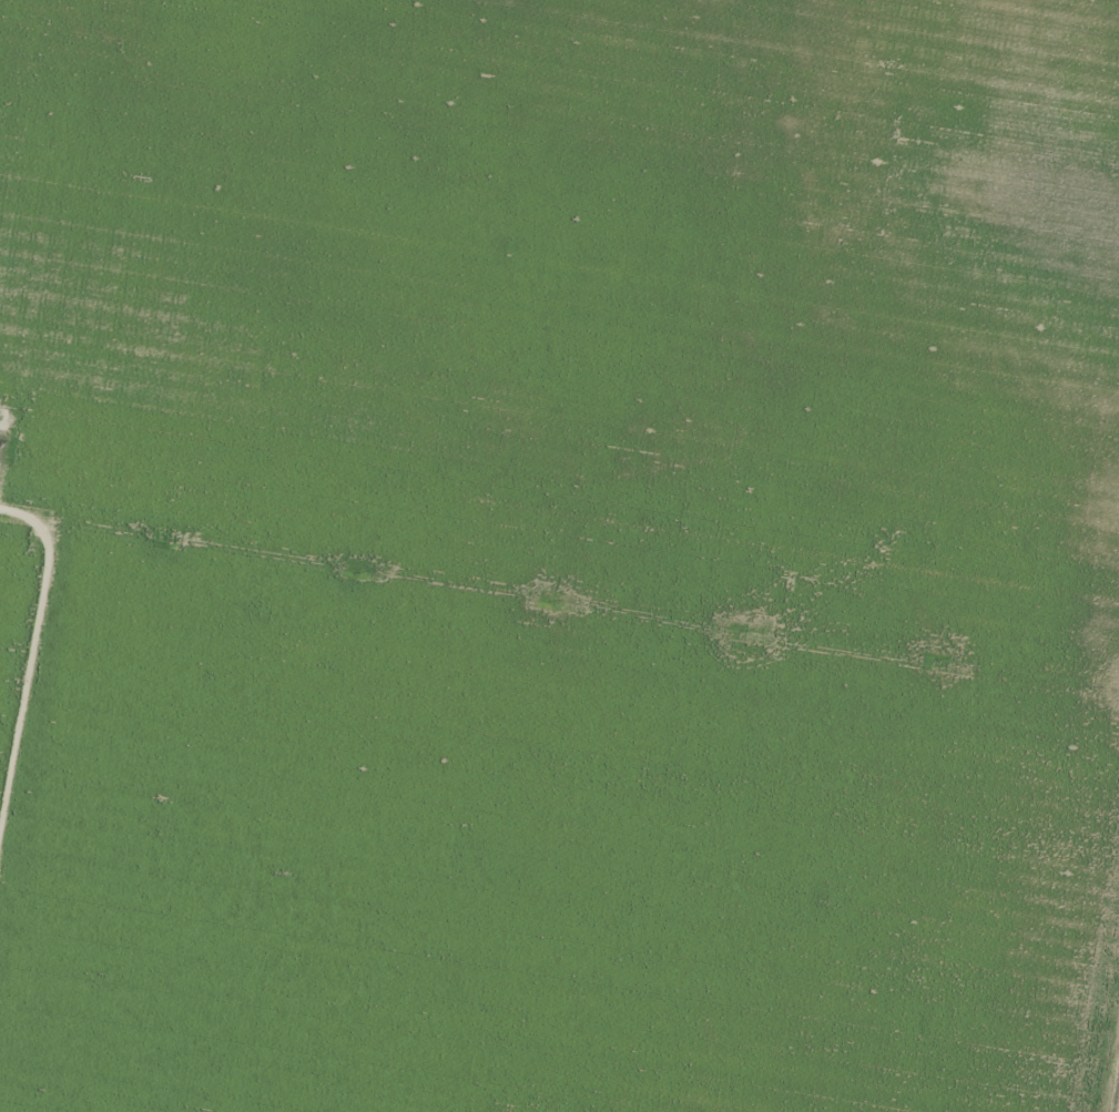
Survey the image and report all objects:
road: (1112, 1075)

